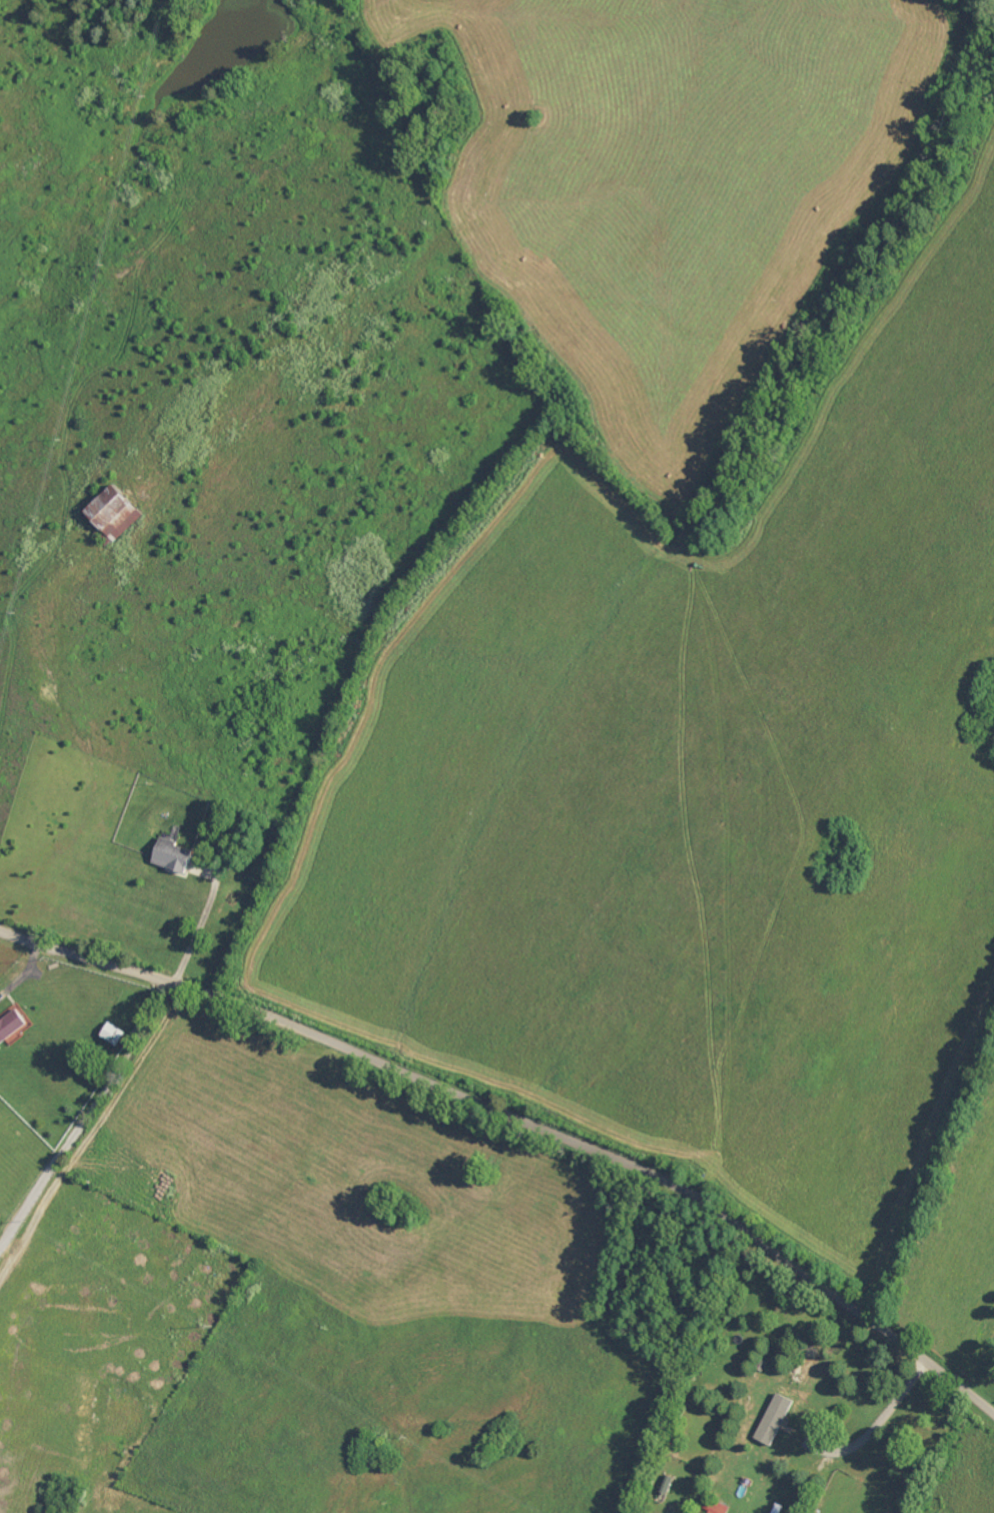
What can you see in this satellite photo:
building: (110, 515)
building: (171, 856)
road: (202, 918)
building: (10, 1024)
road: (523, 1115)
road: (89, 1122)
building: (771, 1420)
building: (714, 1507)

